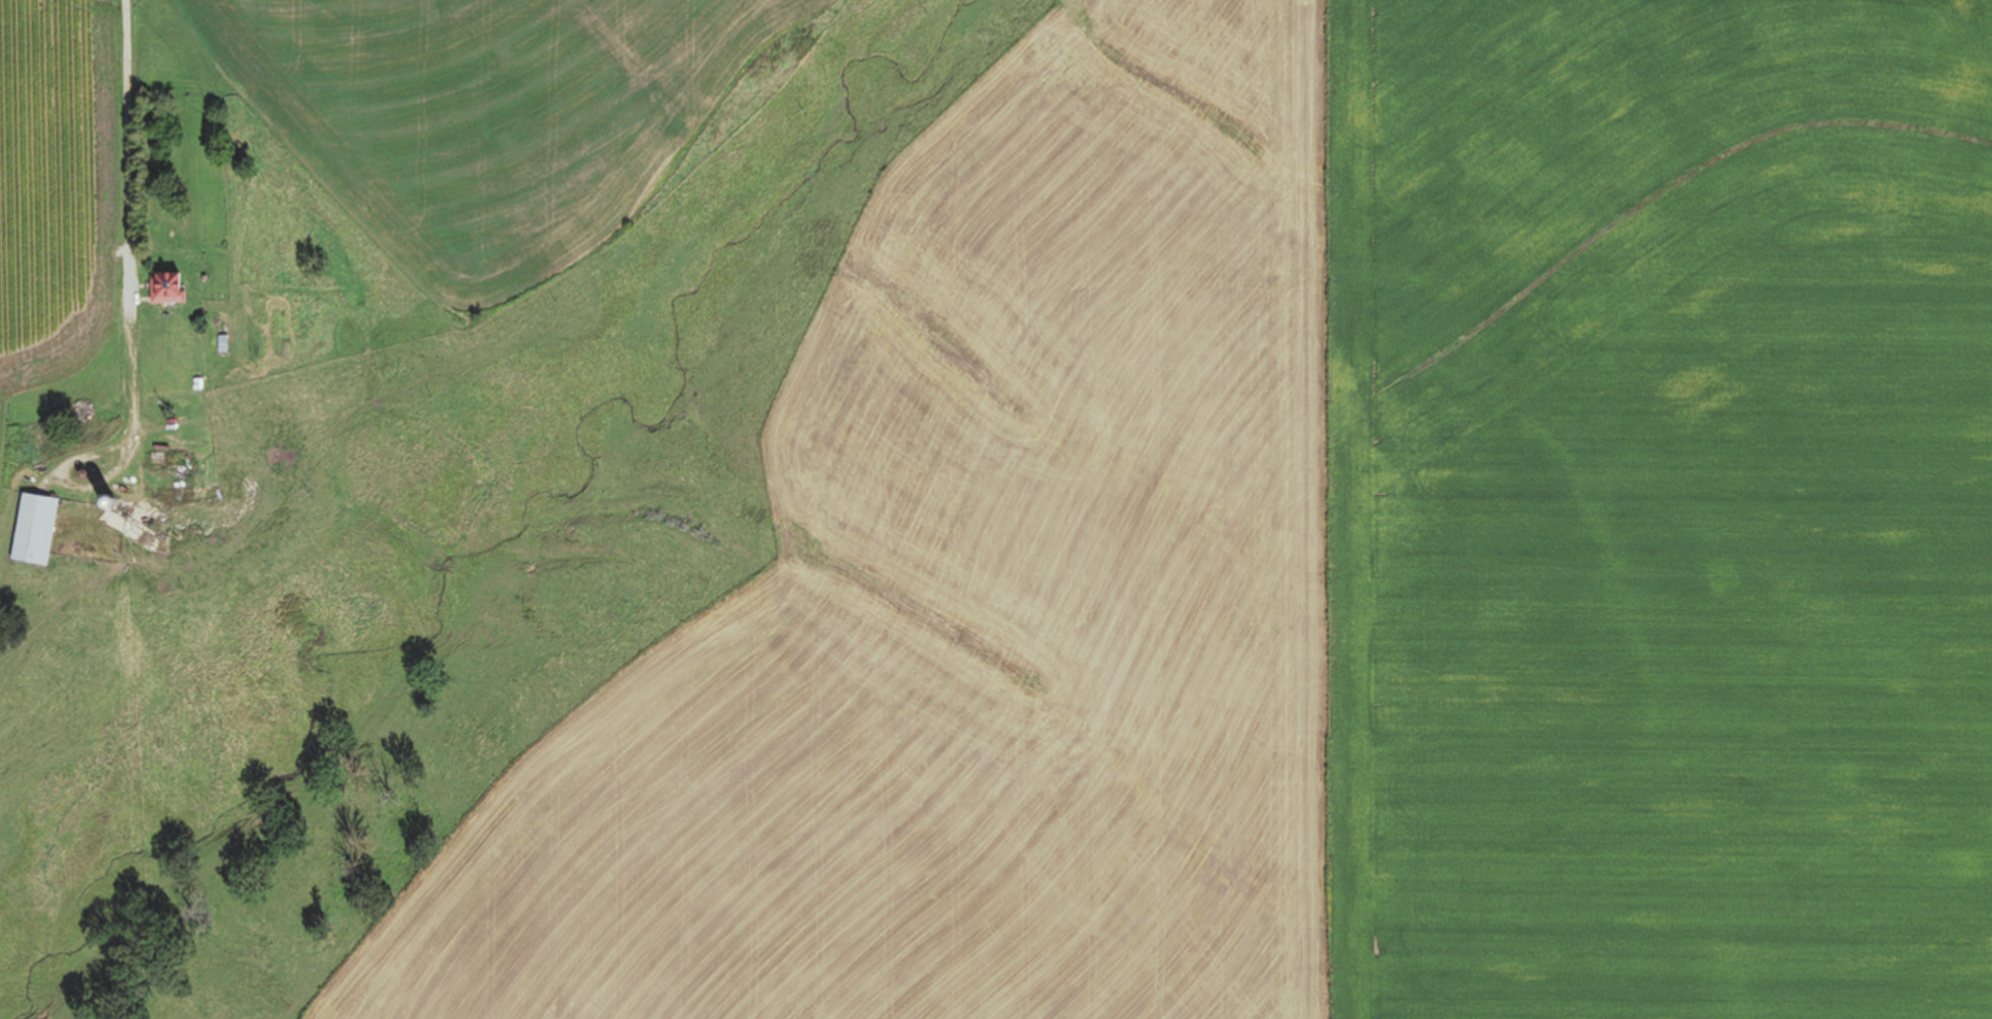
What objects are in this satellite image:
road: (129, 167)
building: (165, 289)
building: (101, 502)
building: (32, 530)

